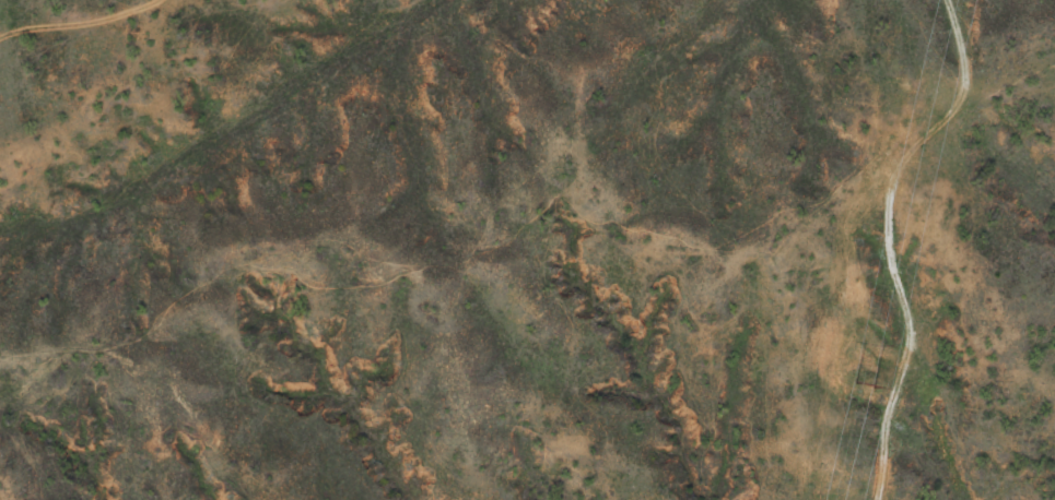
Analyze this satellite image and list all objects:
power tower: (866, 385)

